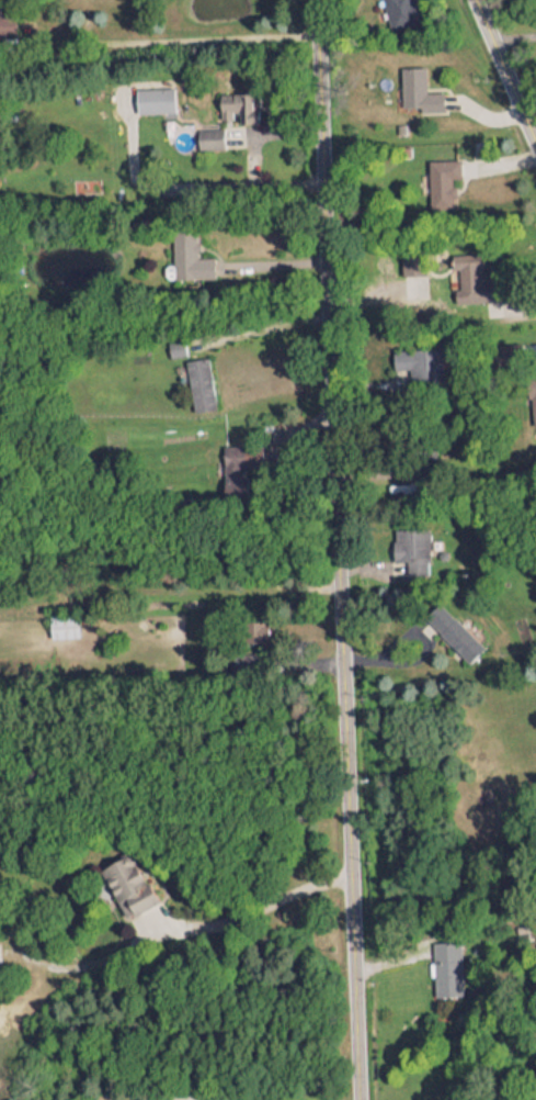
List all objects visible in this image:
building: (4, 16)
road: (202, 37)
road: (501, 80)
building: (415, 85)
building: (227, 114)
road: (263, 327)
building: (531, 391)
road: (332, 550)
building: (255, 625)
building: (452, 626)
road: (254, 907)

